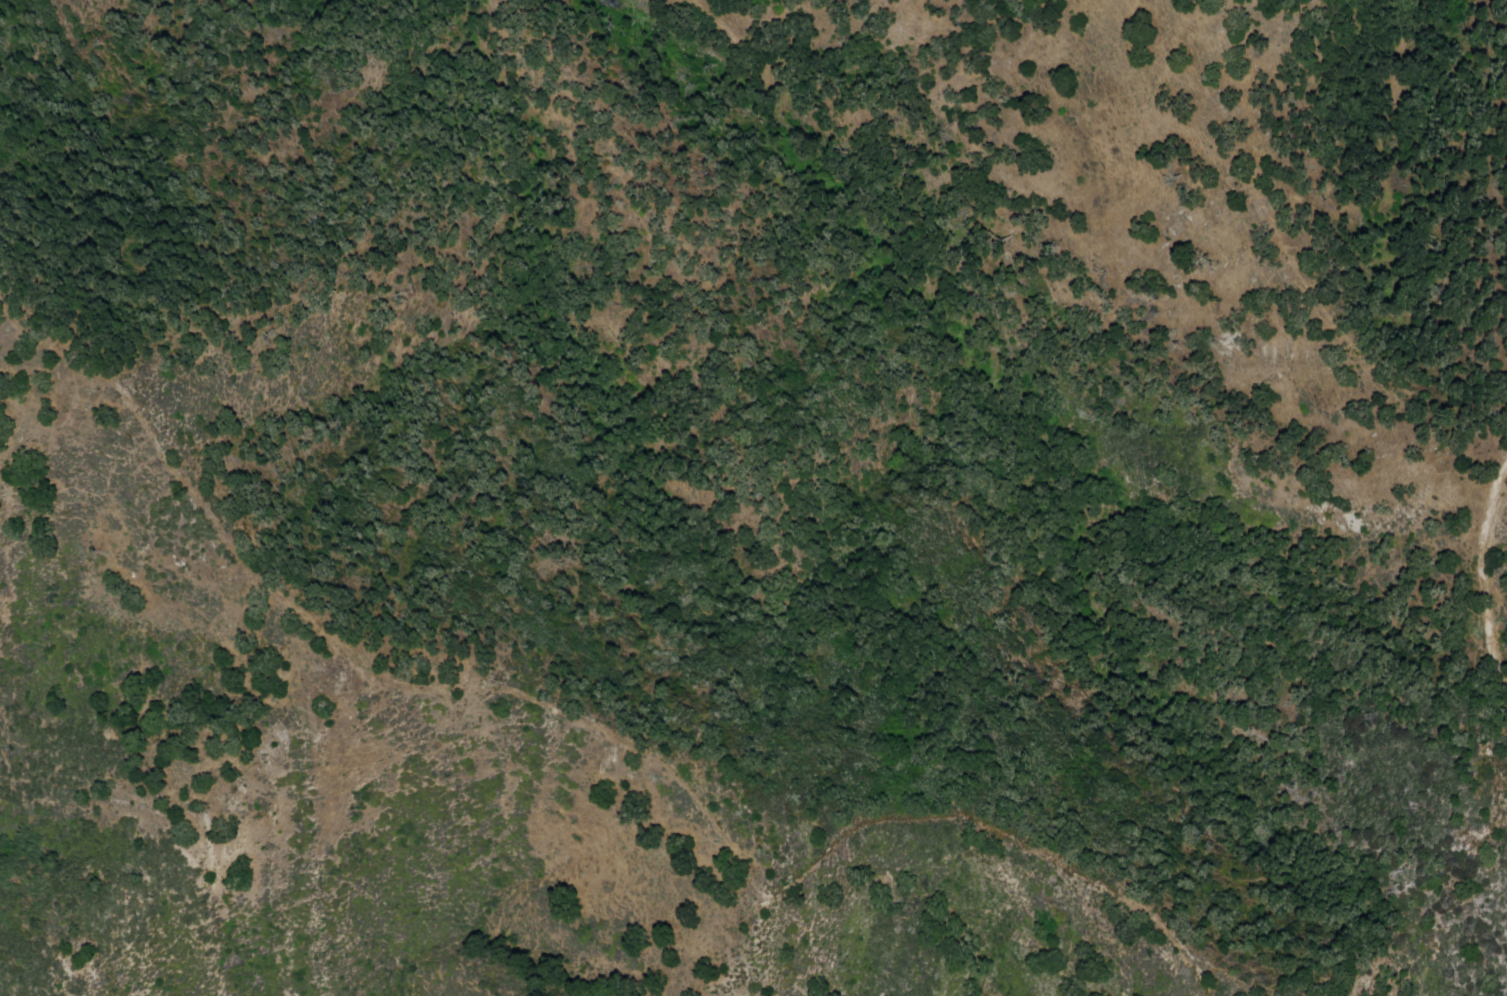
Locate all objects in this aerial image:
road: (603, 734)

